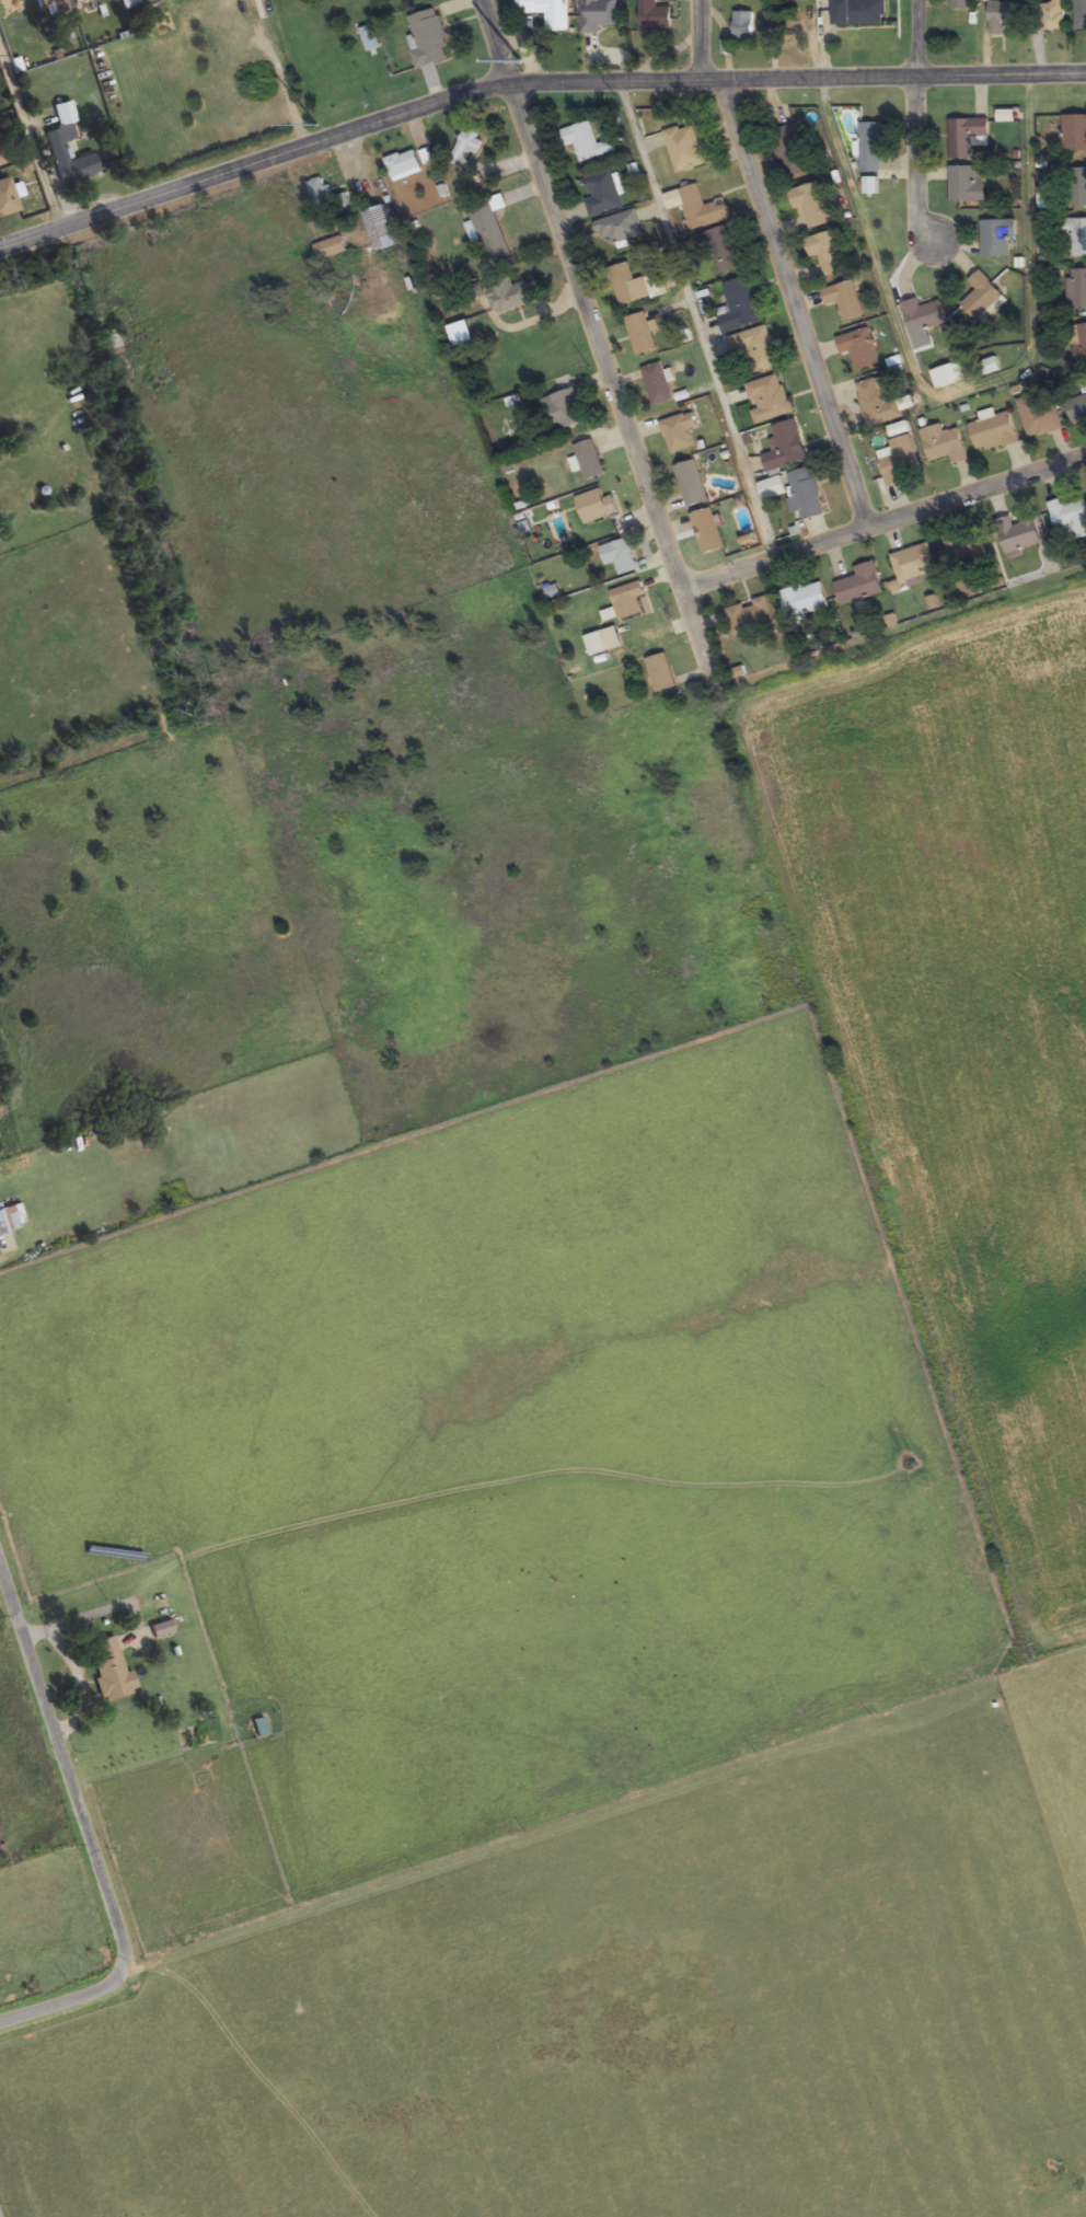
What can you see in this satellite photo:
building: (73, 0)
building: (127, 4)
building: (959, 4)
building: (16, 8)
building: (50, 8)
building: (547, 12)
building: (859, 12)
building: (1079, 14)
building: (599, 15)
building: (1002, 15)
building: (652, 16)
building: (1050, 16)
building: (742, 26)
building: (370, 38)
road: (913, 38)
building: (428, 39)
road: (704, 43)
power tower: (520, 60)
road: (530, 86)
power tower: (319, 122)
building: (1074, 132)
building: (966, 137)
building: (586, 141)
building: (56, 143)
building: (871, 145)
building: (466, 147)
building: (684, 148)
building: (792, 153)
road: (917, 161)
building: (1, 162)
building: (402, 162)
building: (869, 184)
building: (964, 184)
building: (1076, 187)
building: (602, 194)
building: (322, 197)
building: (7, 200)
building: (811, 204)
building: (701, 209)
building: (379, 227)
building: (619, 227)
building: (487, 228)
building: (1076, 234)
building: (995, 238)
building: (330, 247)
building: (719, 247)
building: (824, 252)
building: (624, 284)
building: (1077, 289)
building: (509, 293)
building: (981, 297)
building: (843, 299)
road: (795, 300)
building: (738, 304)
building: (922, 314)
road: (694, 315)
road: (590, 334)
building: (640, 334)
building: (1079, 344)
building: (857, 347)
building: (755, 348)
building: (990, 366)
building: (657, 383)
road: (956, 393)
building: (767, 399)
building: (877, 401)
building: (1076, 407)
building: (563, 409)
building: (1038, 417)
building: (993, 431)
building: (678, 432)
building: (944, 443)
building: (785, 447)
building: (898, 454)
building: (588, 460)
building: (691, 483)
building: (772, 488)
building: (805, 493)
building: (596, 506)
road: (891, 510)
building: (1068, 518)
building: (706, 531)
building: (1017, 534)
building: (964, 547)
building: (619, 556)
building: (913, 563)
road: (683, 573)
building: (859, 585)
building: (808, 599)
building: (627, 600)
building: (750, 616)
building: (594, 643)
building: (660, 672)
building: (9, 1220)
building: (159, 1629)
building: (109, 1673)
road: (65, 1759)
road: (497, 1855)
road: (68, 2001)
park: (1, 2213)

